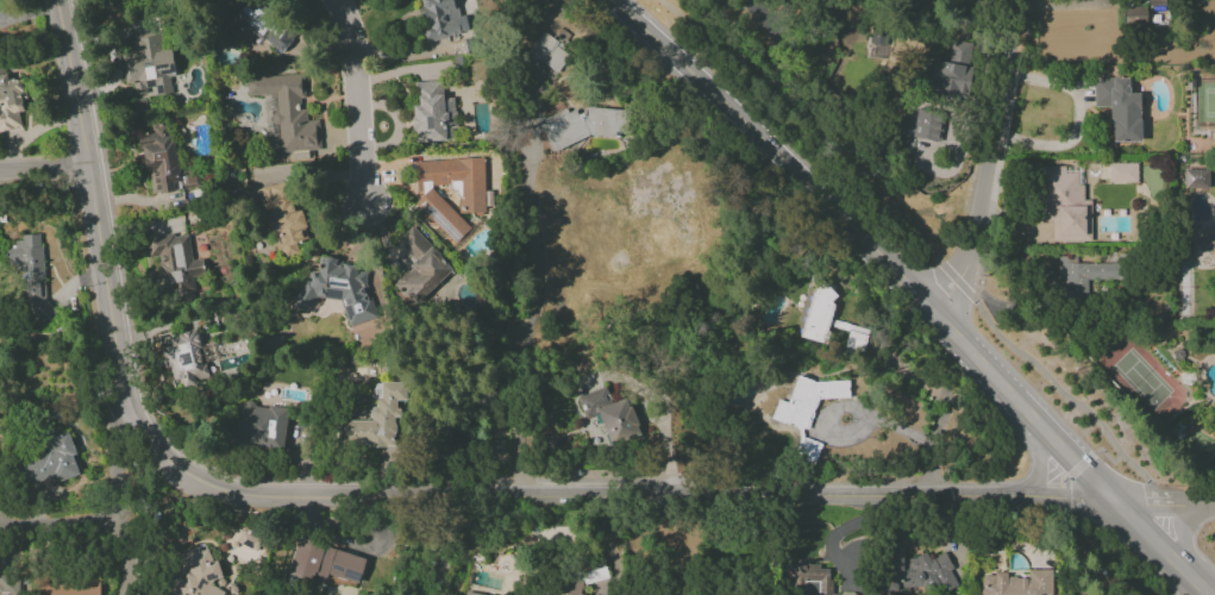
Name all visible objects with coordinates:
building: (1155, 2)
building: (107, 4)
road: (1059, 4)
road: (25, 13)
building: (1134, 15)
building: (438, 19)
building: (261, 26)
building: (546, 56)
building: (146, 64)
building: (947, 74)
road: (359, 99)
building: (10, 102)
building: (1119, 107)
building: (284, 113)
building: (432, 113)
road: (1076, 119)
building: (576, 125)
building: (926, 125)
road: (759, 133)
road: (994, 161)
building: (163, 162)
building: (1121, 173)
road: (44, 174)
building: (1195, 178)
building: (471, 199)
building: (1063, 205)
building: (282, 220)
road: (920, 245)
building: (174, 264)
building: (419, 268)
building: (30, 275)
building: (1081, 276)
road: (534, 283)
building: (336, 289)
road: (919, 293)
building: (183, 357)
road: (983, 362)
building: (806, 411)
road: (859, 411)
building: (609, 415)
building: (376, 418)
building: (259, 426)
road: (938, 457)
road: (1107, 457)
building: (51, 458)
road: (1039, 461)
road: (1067, 476)
road: (1113, 494)
road: (1063, 496)
road: (339, 497)
road: (1165, 501)
road: (117, 508)
road: (57, 525)
road: (1183, 535)
building: (248, 539)
road: (443, 546)
building: (324, 563)
building: (916, 572)
building: (195, 574)
building: (5, 584)
building: (1016, 584)
building: (65, 585)
road: (1201, 587)
building: (572, 589)

